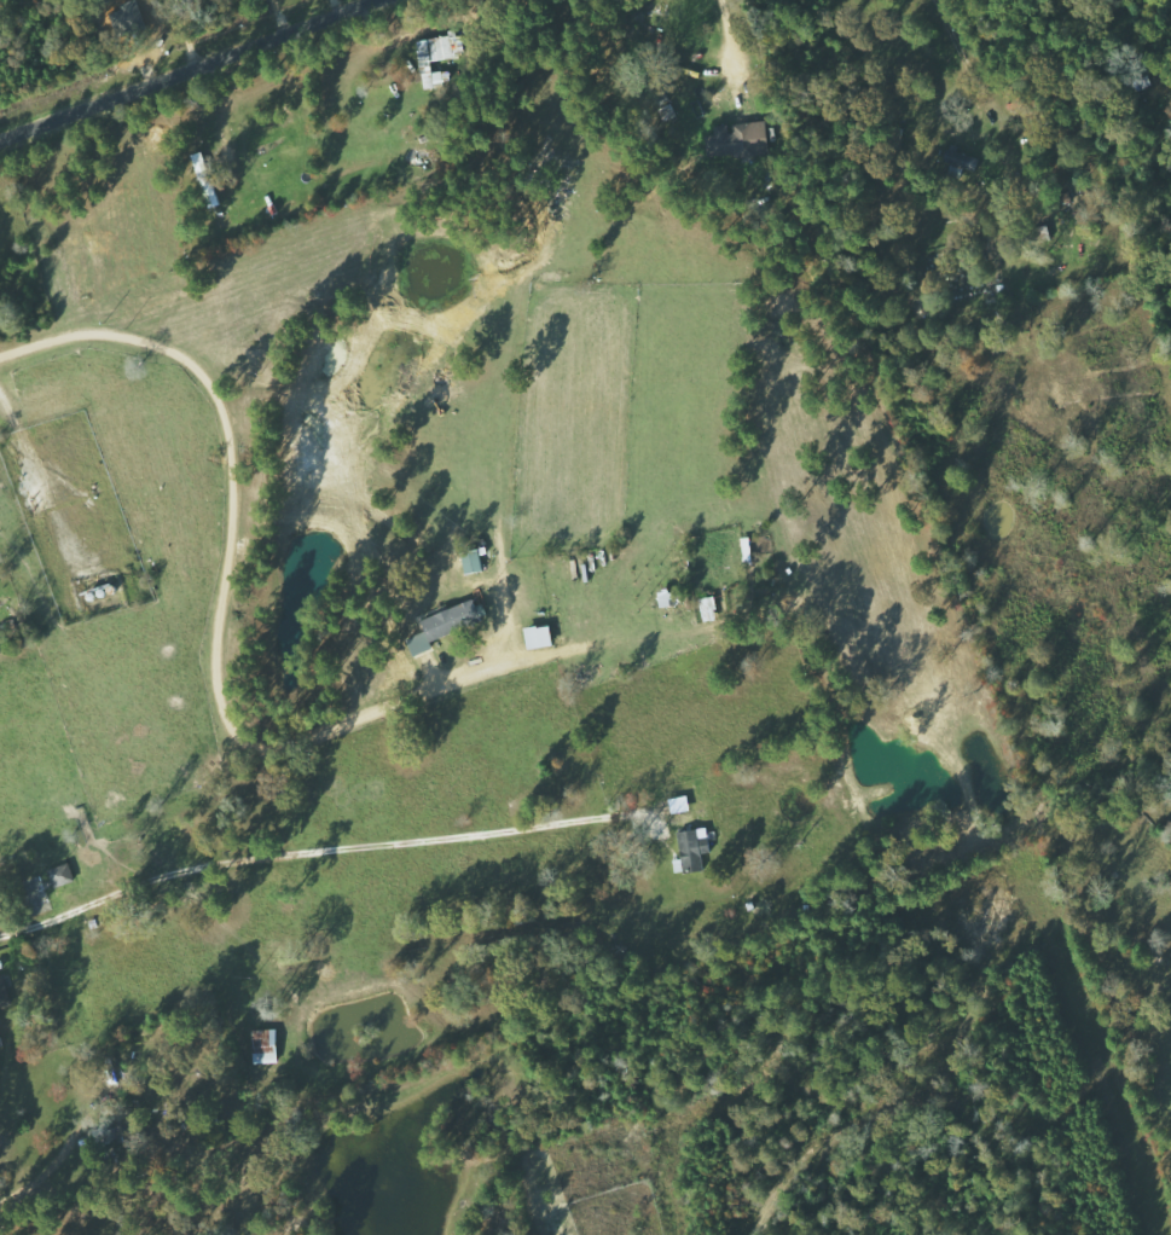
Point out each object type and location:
building: (440, 58)
road: (189, 70)
building: (742, 140)
building: (475, 562)
building: (668, 597)
building: (450, 625)
building: (541, 637)
building: (694, 851)
building: (64, 875)
building: (4, 993)
building: (267, 1046)

